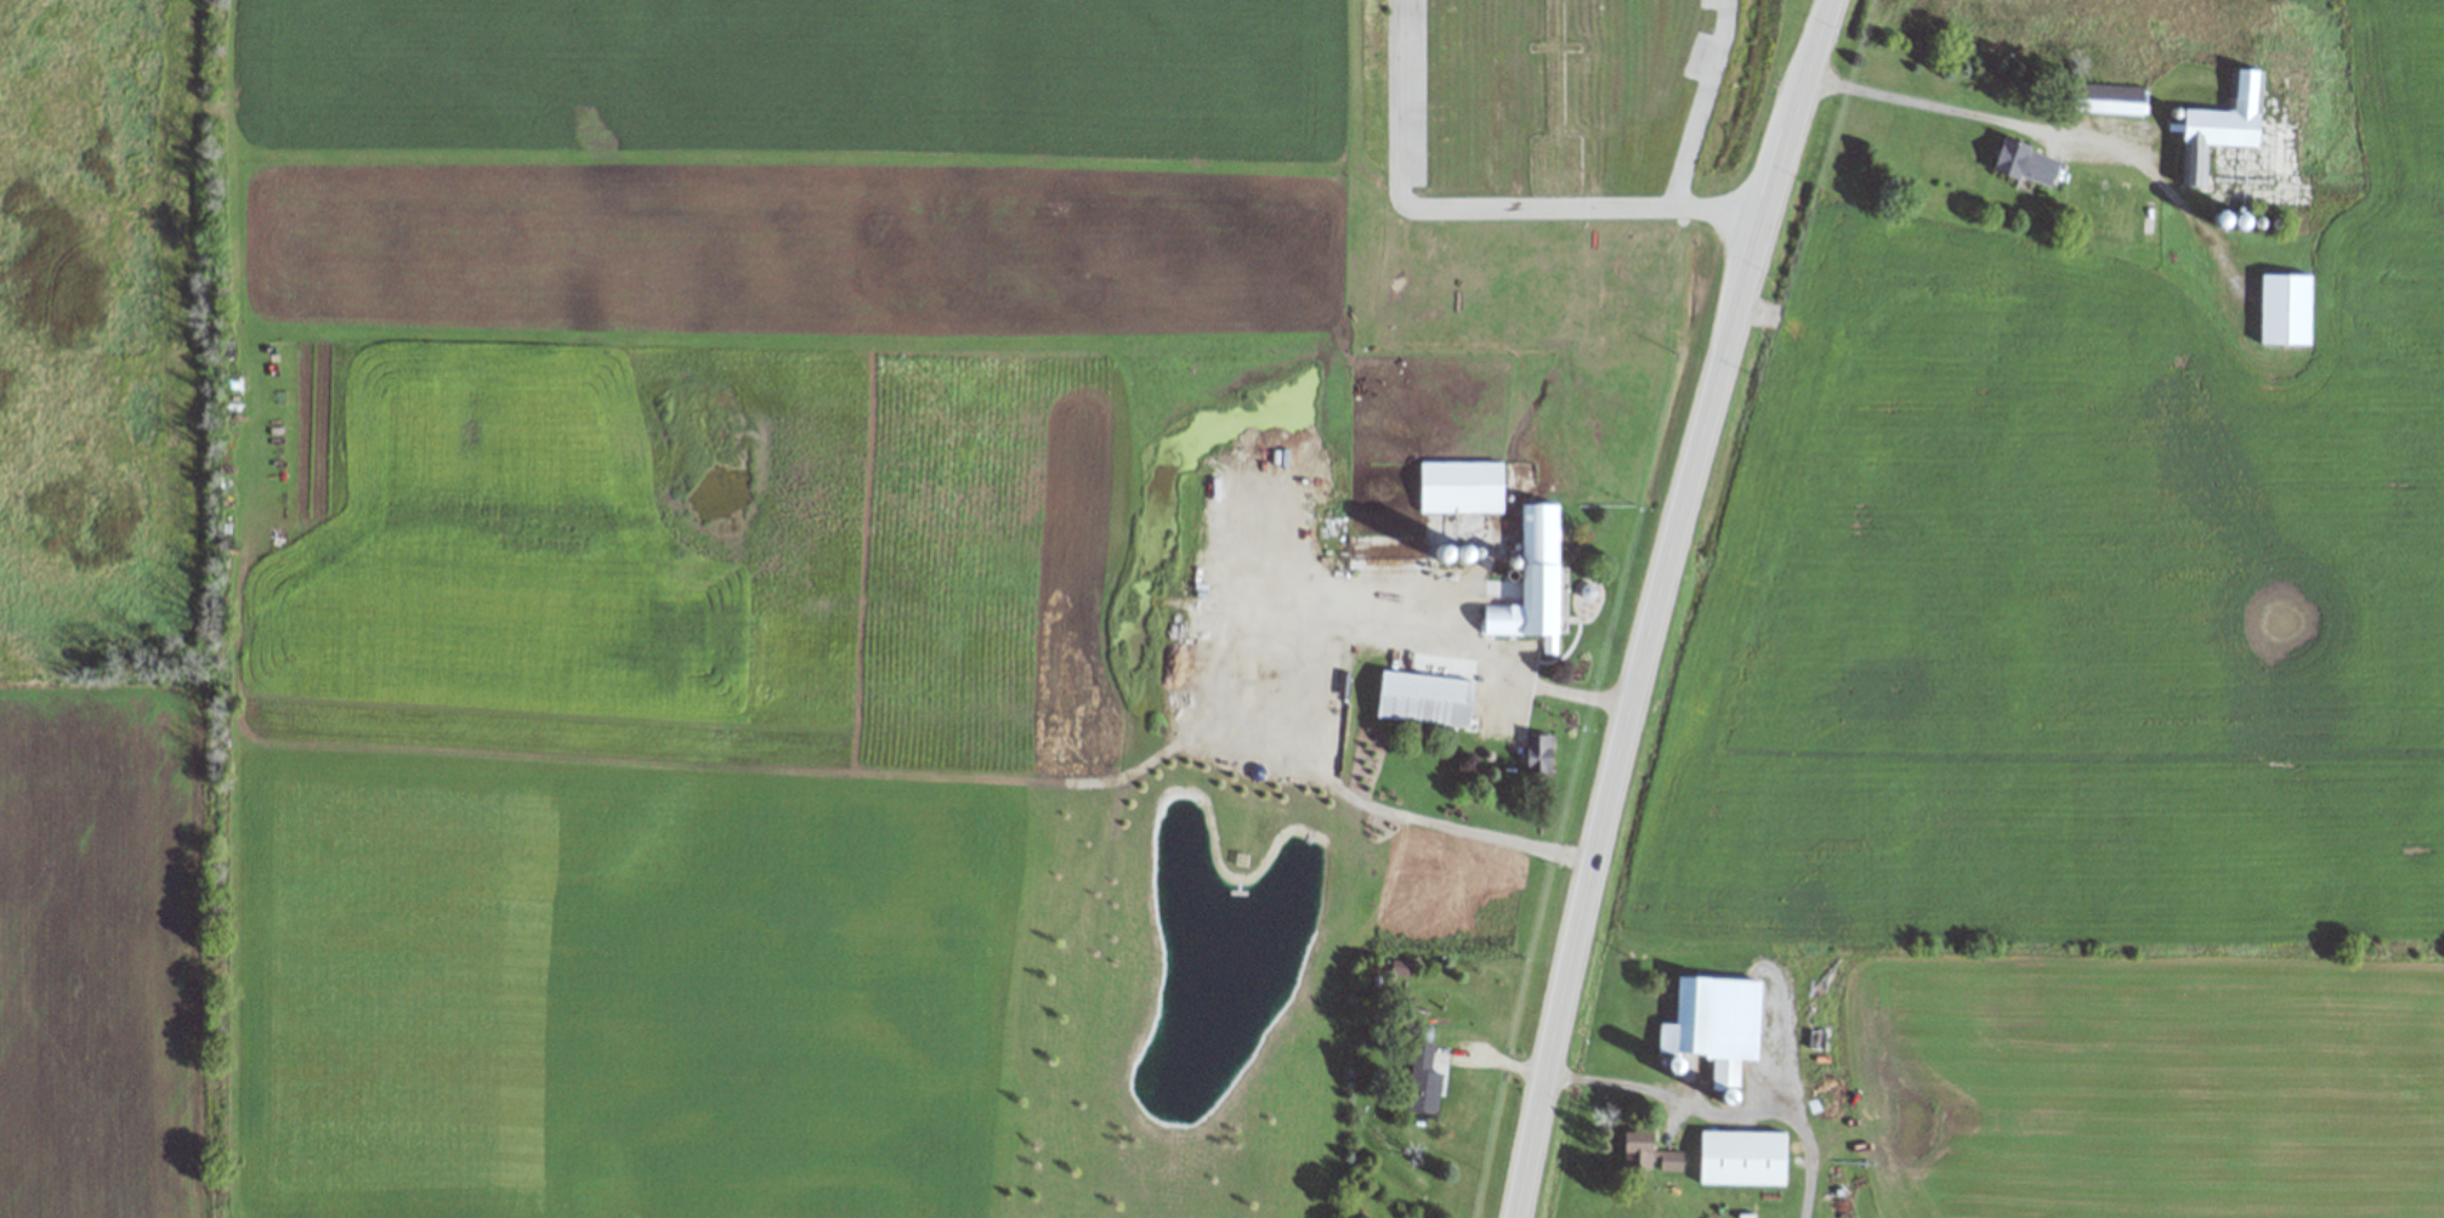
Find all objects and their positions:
building: (2110, 97)
road: (1700, 104)
road: (1974, 117)
building: (2222, 126)
building: (2024, 160)
road: (1484, 206)
building: (2287, 308)
building: (1463, 486)
building: (1535, 580)
road: (1655, 602)
building: (1427, 698)
building: (1541, 754)
building: (1718, 1025)
building: (1422, 1077)
road: (1725, 1110)
building: (1649, 1154)
building: (1745, 1158)

